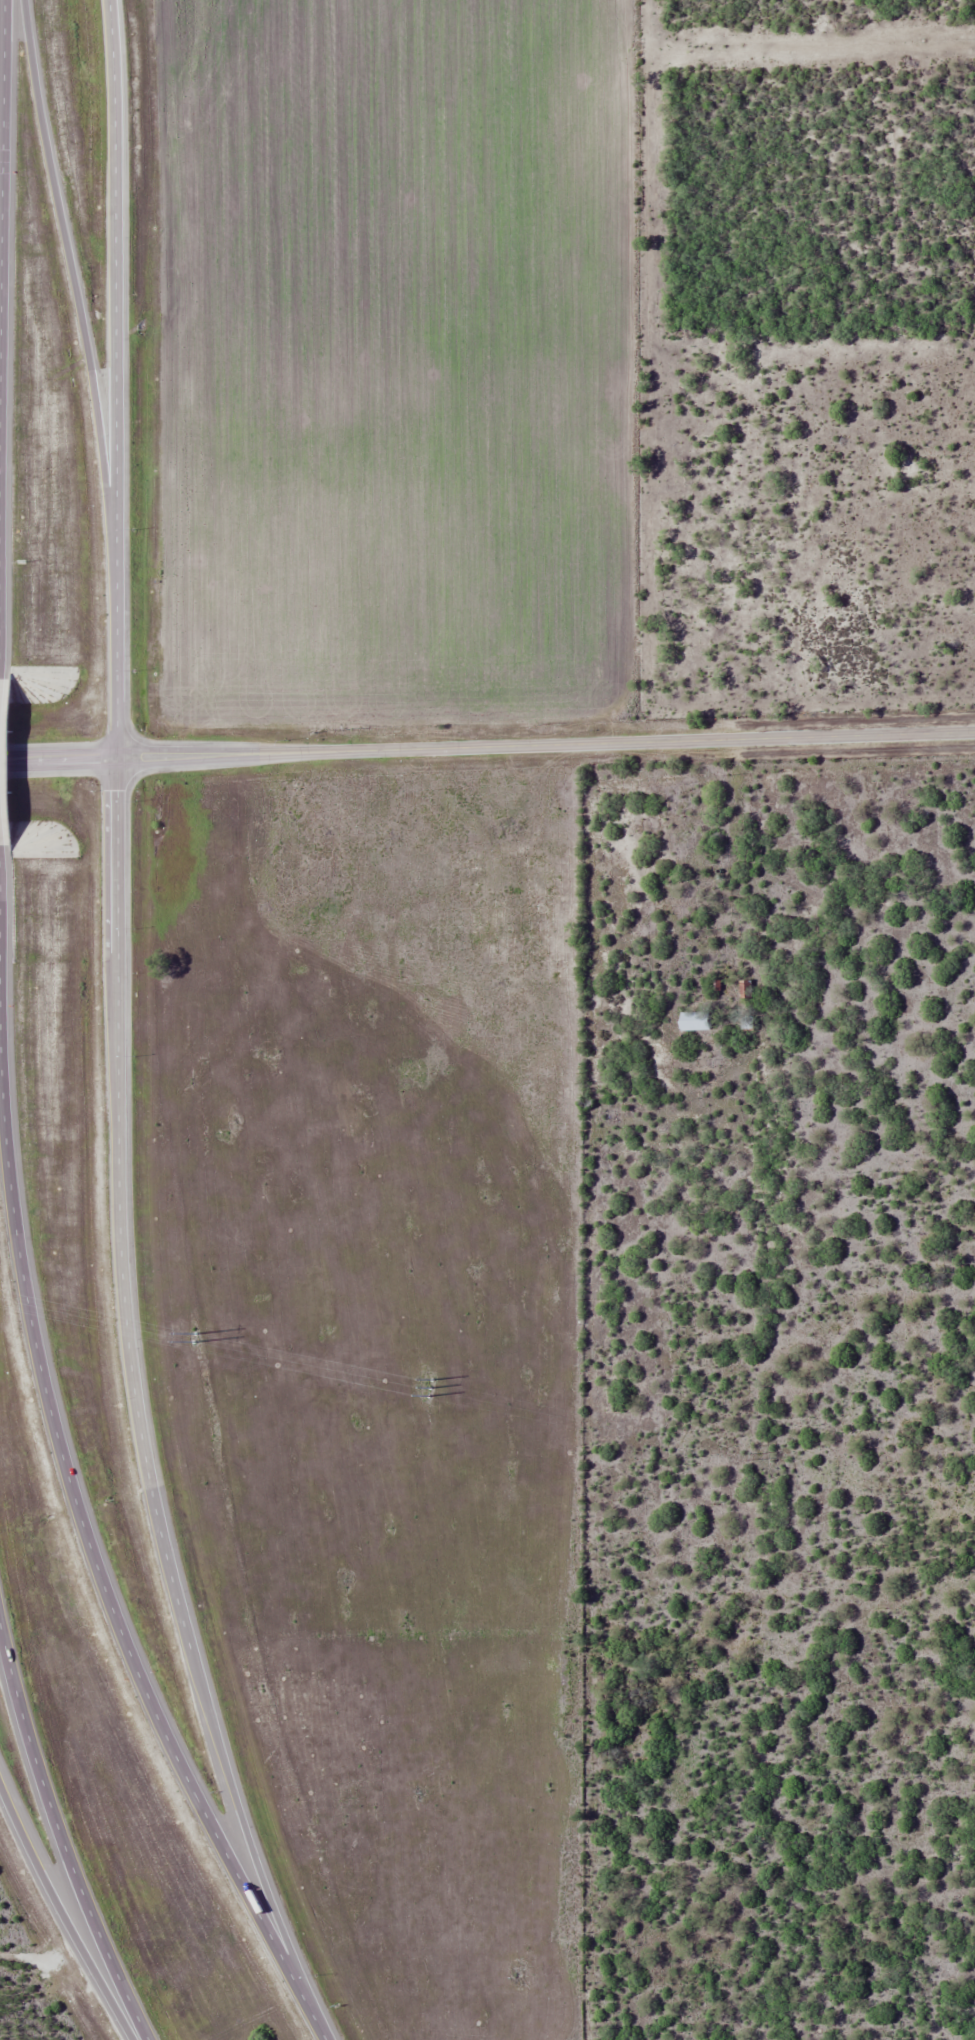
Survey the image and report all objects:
road: (1, 251)
road: (71, 267)
road: (115, 379)
road: (487, 747)
building: (693, 1020)
power tower: (194, 1336)
power tower: (429, 1388)
road: (132, 1389)
power tower: (757, 1454)
road: (97, 1565)
road: (62, 1839)
road: (62, 1916)

